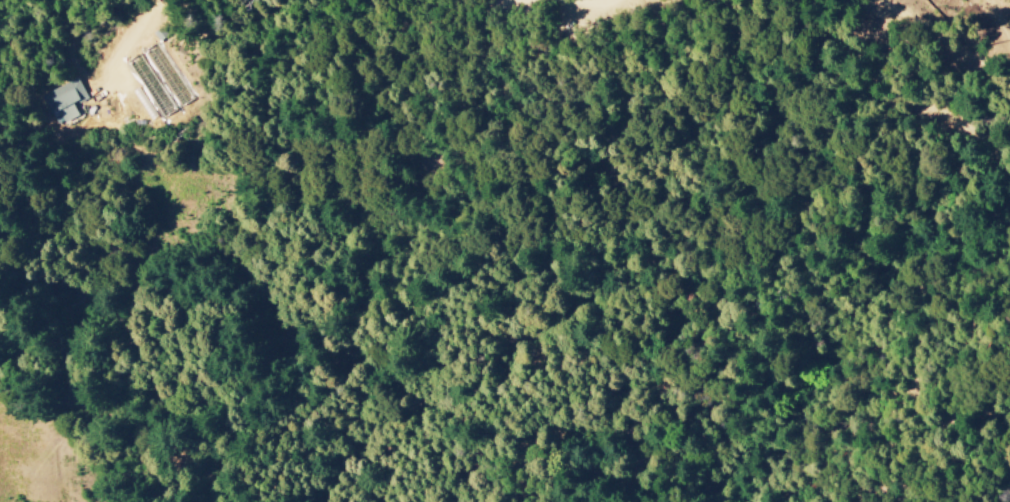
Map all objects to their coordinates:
road: (937, 50)
road: (916, 87)
building: (65, 101)

